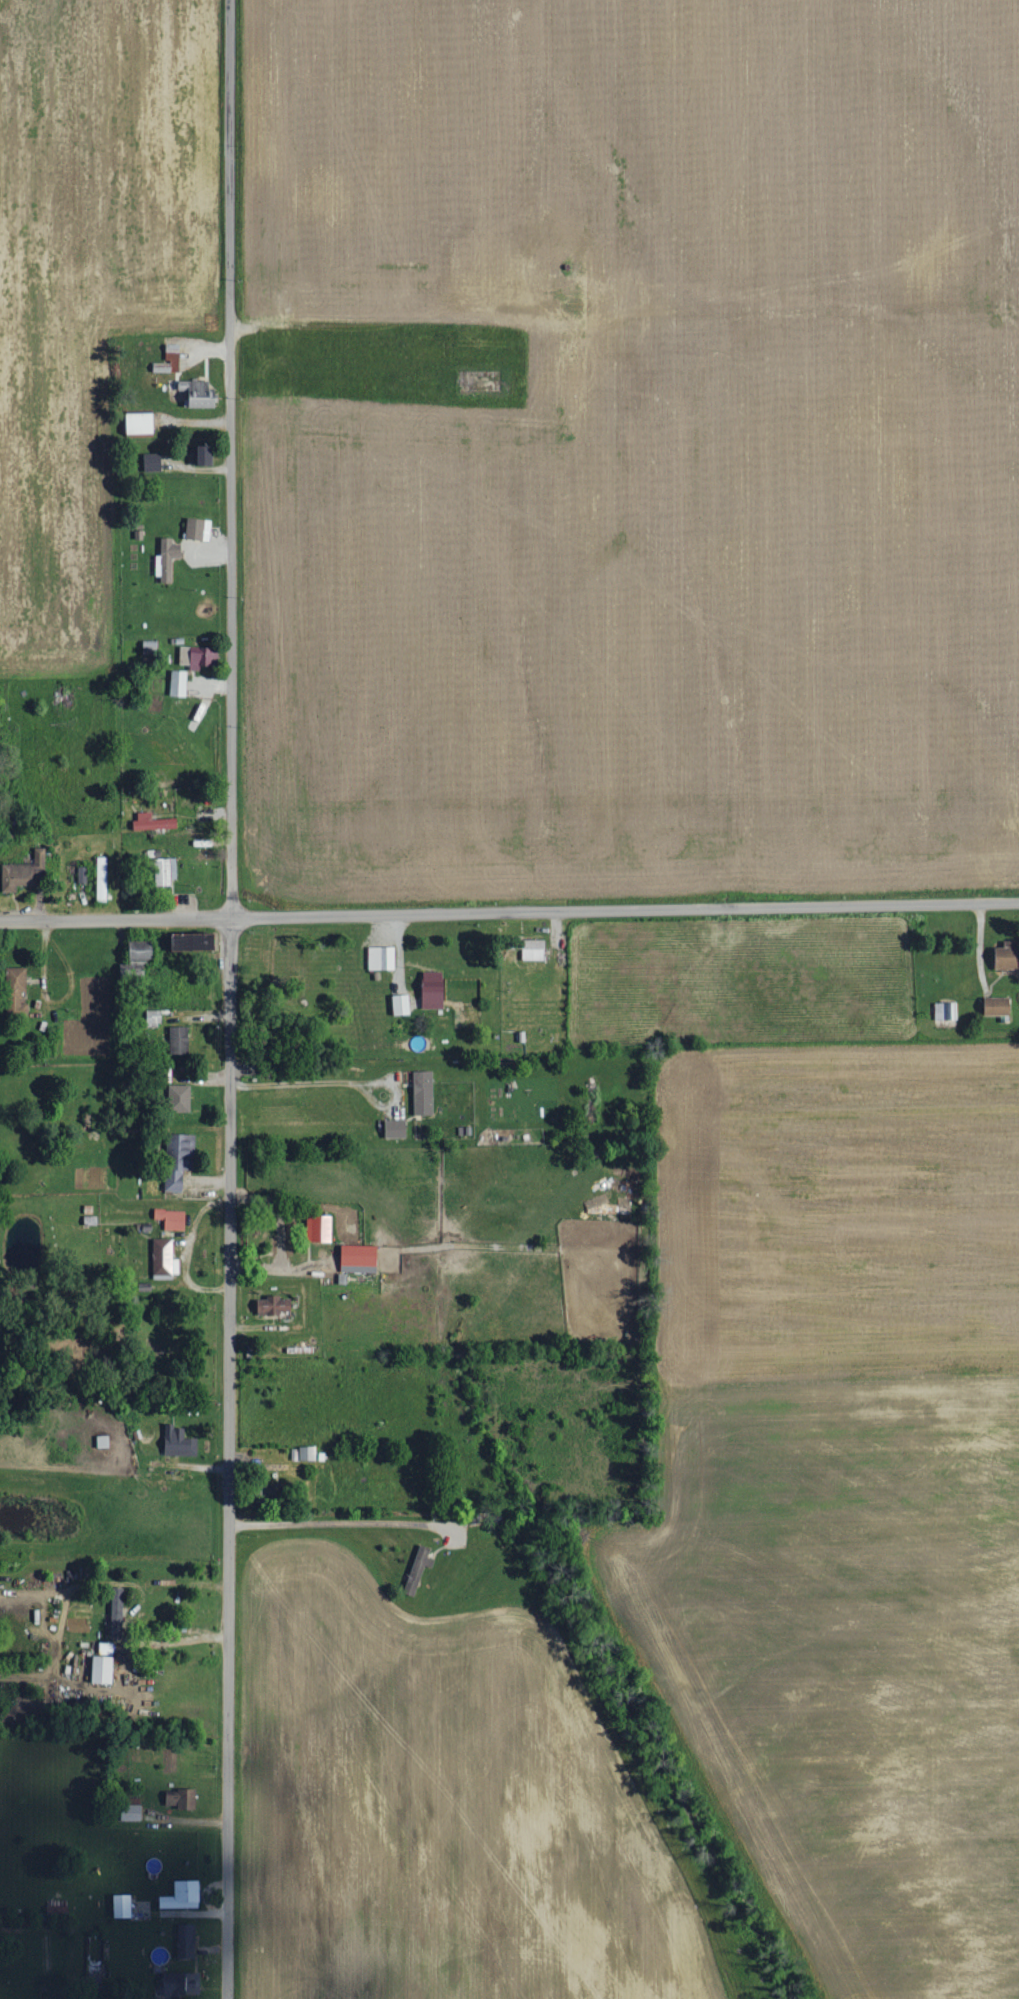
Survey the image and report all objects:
building: (173, 359)
building: (199, 394)
building: (141, 423)
building: (206, 455)
building: (152, 462)
building: (199, 529)
building: (168, 559)
building: (197, 657)
building: (179, 683)
building: (153, 822)
building: (166, 872)
building: (21, 875)
building: (82, 875)
building: (102, 879)
road: (509, 909)
building: (197, 942)
building: (537, 950)
building: (143, 951)
building: (1007, 956)
building: (381, 958)
building: (16, 984)
building: (434, 997)
road: (223, 999)
building: (402, 1004)
building: (999, 1006)
building: (946, 1011)
building: (154, 1017)
building: (179, 1040)
building: (424, 1093)
building: (180, 1098)
building: (396, 1129)
building: (179, 1161)
building: (172, 1219)
building: (320, 1229)
building: (285, 1237)
building: (360, 1259)
building: (274, 1306)
building: (179, 1443)
building: (305, 1454)
building: (418, 1570)
building: (118, 1614)
building: (106, 1649)
building: (103, 1670)
building: (182, 1799)
building: (132, 1813)
building: (183, 1895)
building: (123, 1905)
building: (187, 1941)
building: (182, 1983)

